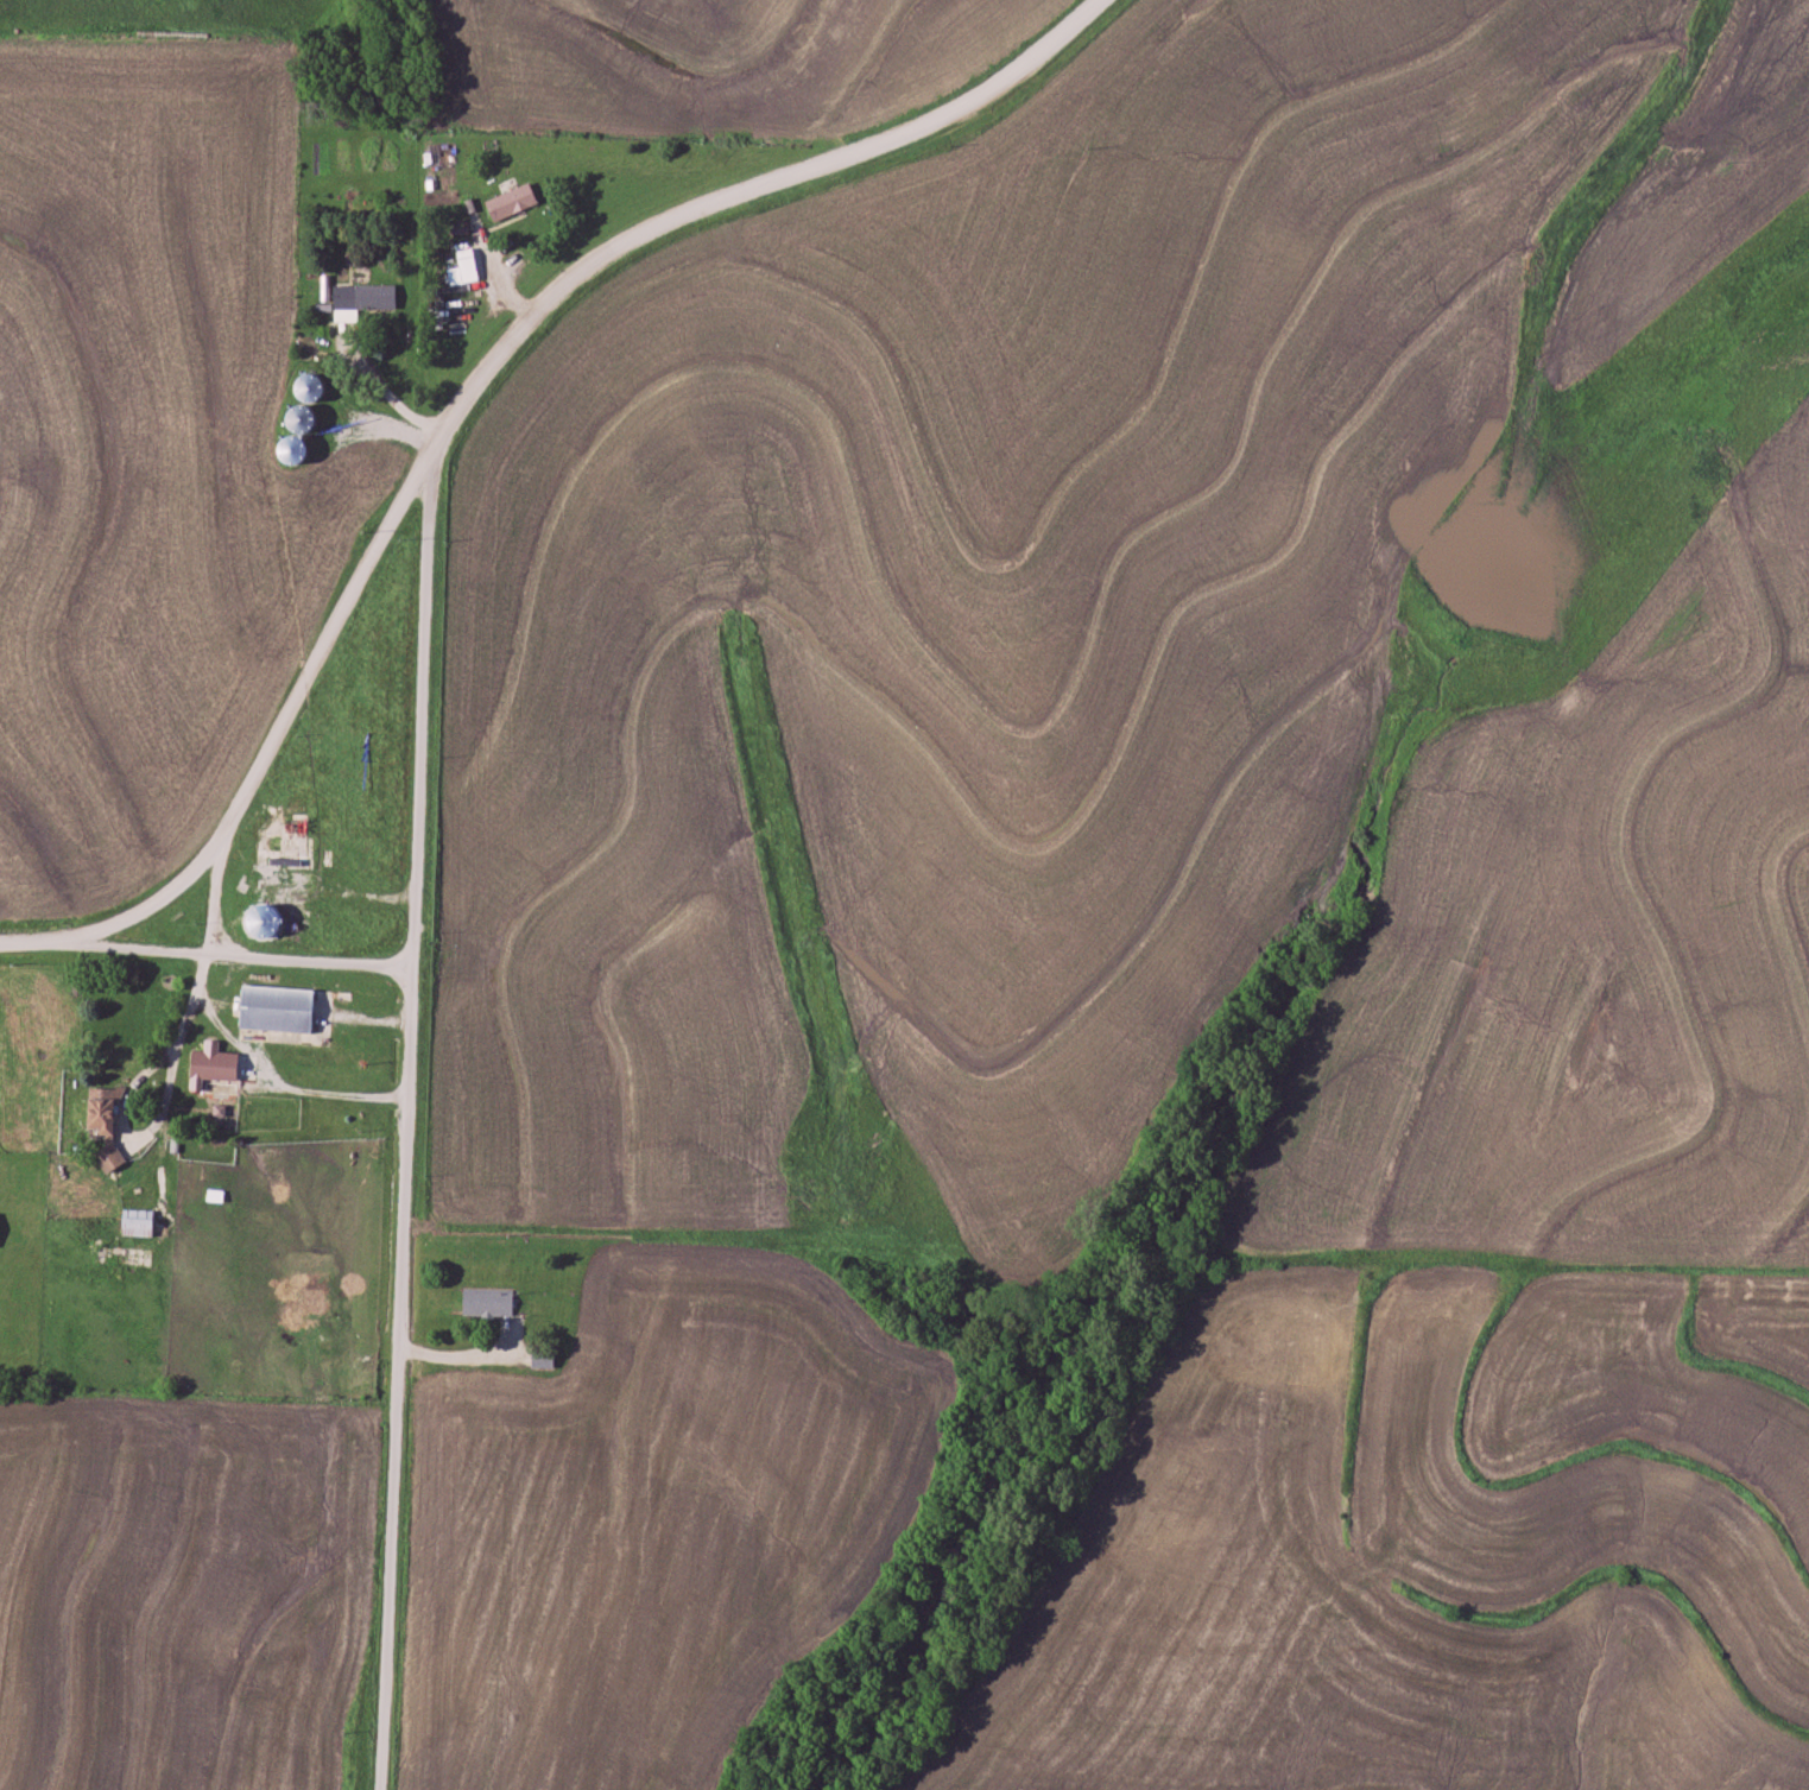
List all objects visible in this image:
building: (513, 203)
building: (361, 301)
road: (424, 707)
building: (298, 836)
road: (207, 953)
building: (279, 1008)
building: (214, 1064)
building: (105, 1109)
building: (110, 1157)
building: (139, 1222)
building: (488, 1302)
building: (543, 1361)

